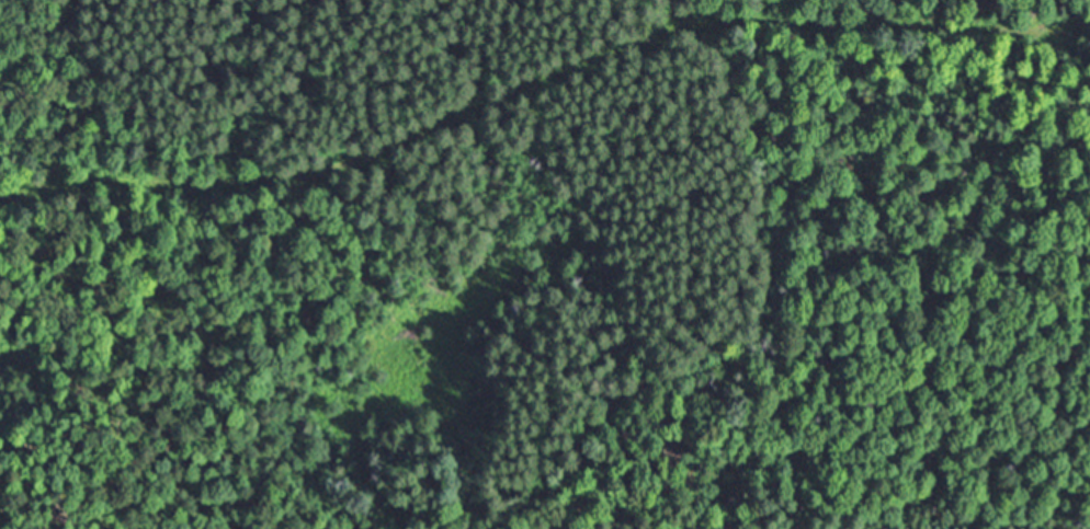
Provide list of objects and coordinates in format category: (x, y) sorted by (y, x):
road: (542, 83)

